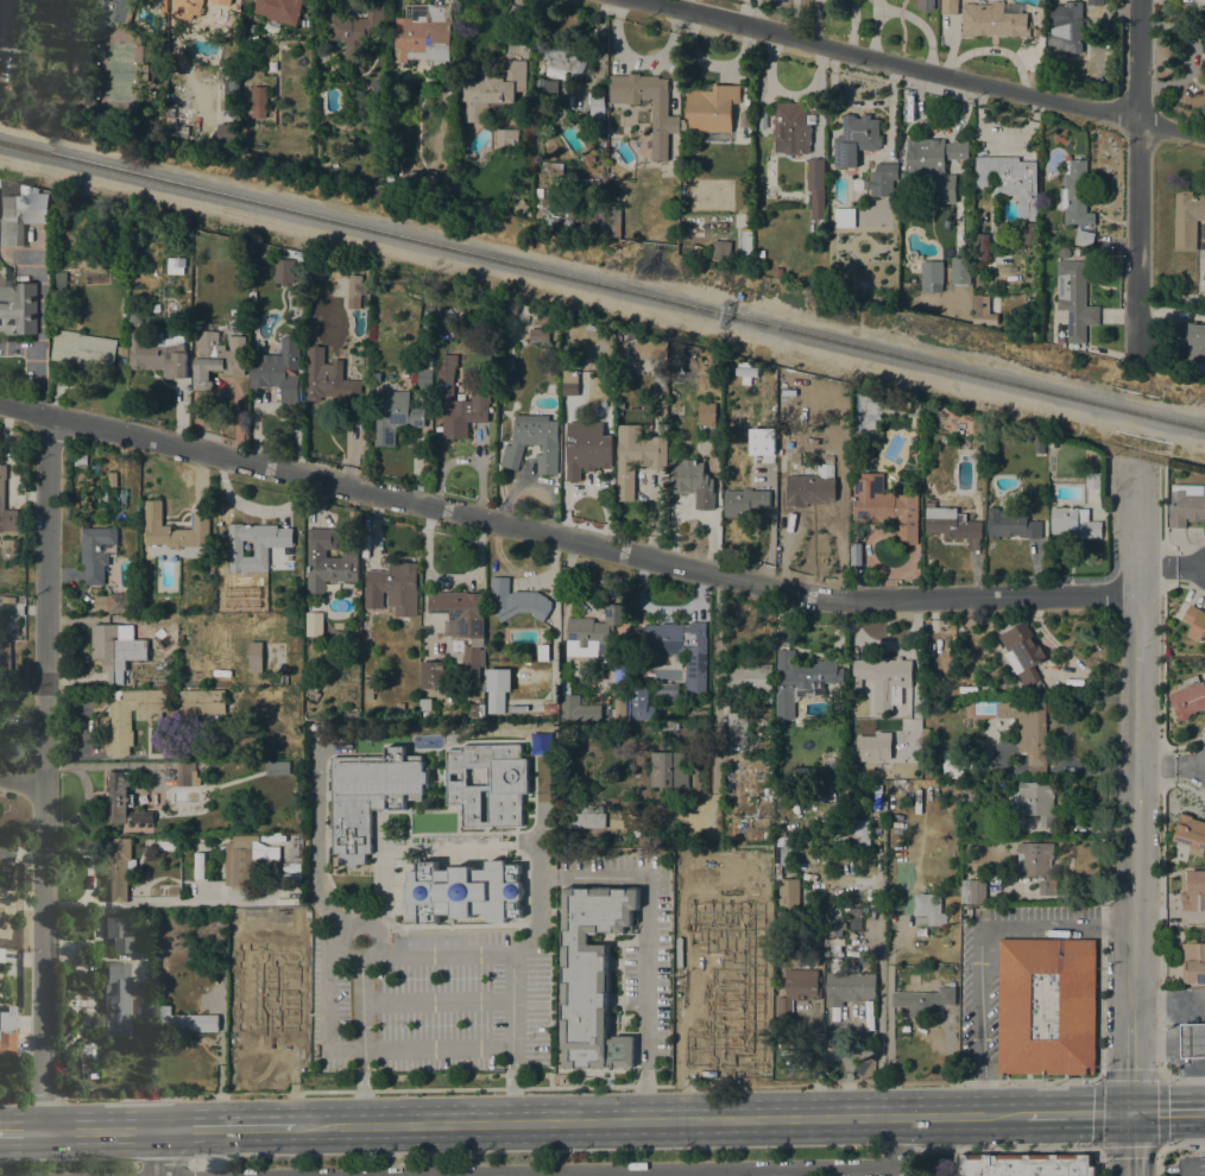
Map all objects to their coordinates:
building: (140, 0)
building: (221, 1)
building: (1094, 2)
building: (925, 5)
building: (948, 7)
building: (187, 8)
building: (278, 10)
building: (116, 12)
building: (992, 20)
building: (1065, 26)
building: (354, 29)
building: (425, 36)
building: (255, 42)
building: (257, 55)
road: (1137, 59)
building: (563, 61)
road: (920, 67)
building: (145, 71)
building: (545, 89)
building: (493, 91)
building: (259, 96)
building: (595, 103)
building: (378, 105)
building: (711, 108)
building: (665, 118)
building: (744, 119)
building: (791, 128)
building: (227, 133)
building: (506, 138)
building: (854, 139)
building: (671, 146)
building: (548, 166)
building: (935, 166)
building: (390, 173)
building: (1010, 179)
building: (881, 181)
building: (423, 183)
building: (857, 184)
building: (592, 186)
building: (815, 188)
building: (1074, 194)
building: (521, 206)
building: (542, 209)
building: (19, 211)
building: (844, 217)
building: (1187, 219)
building: (613, 221)
building: (140, 227)
building: (1029, 233)
road: (1135, 233)
building: (1084, 238)
building: (720, 249)
building: (979, 253)
building: (283, 271)
building: (960, 271)
building: (777, 273)
building: (932, 274)
building: (61, 285)
building: (354, 286)
railway: (602, 286)
building: (1075, 297)
building: (507, 308)
building: (18, 309)
building: (983, 310)
building: (135, 317)
building: (427, 318)
building: (504, 330)
building: (593, 330)
building: (538, 334)
building: (1059, 341)
building: (81, 348)
building: (1195, 348)
building: (650, 349)
building: (121, 355)
building: (157, 356)
building: (217, 356)
building: (676, 359)
building: (429, 361)
building: (279, 371)
building: (746, 372)
building: (718, 373)
building: (326, 377)
building: (377, 378)
building: (425, 378)
building: (570, 381)
building: (458, 402)
building: (903, 402)
building: (788, 407)
building: (706, 413)
building: (917, 413)
building: (395, 416)
building: (534, 442)
building: (1052, 444)
building: (788, 447)
building: (1039, 447)
building: (586, 448)
building: (1087, 450)
building: (826, 451)
building: (636, 457)
building: (81, 460)
building: (765, 461)
building: (112, 479)
building: (1093, 481)
building: (693, 482)
building: (815, 493)
building: (2, 494)
building: (135, 494)
building: (120, 497)
building: (744, 501)
building: (1186, 505)
building: (887, 510)
building: (153, 519)
building: (1073, 521)
building: (1009, 525)
building: (951, 526)
road: (1137, 536)
road: (563, 538)
building: (254, 545)
building: (96, 552)
building: (328, 559)
building: (209, 565)
road: (1156, 565)
road: (1190, 565)
building: (393, 588)
building: (516, 600)
building: (118, 601)
building: (460, 611)
building: (1195, 621)
building: (298, 622)
road: (1136, 627)
building: (595, 632)
road: (884, 644)
building: (116, 649)
building: (680, 650)
building: (542, 652)
building: (1022, 652)
building: (6, 655)
building: (255, 657)
building: (168, 659)
building: (472, 664)
building: (430, 674)
building: (284, 679)
building: (750, 679)
building: (883, 679)
building: (801, 681)
building: (313, 685)
building: (497, 688)
building: (368, 689)
building: (988, 690)
building: (665, 691)
building: (1188, 697)
building: (694, 698)
building: (641, 703)
building: (399, 707)
building: (550, 709)
building: (576, 712)
building: (619, 712)
building: (154, 713)
building: (425, 714)
building: (599, 715)
building: (216, 722)
building: (323, 726)
building: (669, 726)
building: (314, 727)
building: (737, 728)
building: (1028, 732)
road: (330, 742)
building: (872, 747)
building: (955, 763)
building: (277, 769)
building: (668, 769)
road: (1155, 769)
road: (1190, 769)
road: (44, 772)
building: (187, 773)
road: (21, 780)
building: (488, 783)
building: (370, 796)
building: (122, 801)
building: (1033, 802)
building: (586, 817)
building: (656, 827)
building: (852, 829)
building: (1191, 834)
road: (1134, 842)
building: (6, 852)
building: (786, 856)
road: (84, 859)
building: (240, 865)
building: (1037, 865)
building: (119, 867)
building: (1192, 890)
building: (463, 891)
building: (972, 892)
building: (788, 893)
road: (323, 898)
road: (174, 902)
building: (828, 903)
road: (62, 905)
building: (0, 908)
building: (928, 908)
road: (367, 923)
building: (834, 925)
building: (118, 934)
road: (519, 946)
road: (980, 947)
road: (434, 954)
road: (645, 954)
building: (0, 956)
building: (1193, 962)
building: (592, 975)
building: (802, 984)
building: (847, 986)
building: (116, 998)
building: (923, 1000)
building: (259, 1001)
building: (720, 1001)
road: (435, 1003)
building: (1046, 1005)
road: (888, 1014)
building: (185, 1022)
road: (1172, 1028)
building: (7, 1032)
road: (1150, 1041)
building: (1192, 1041)
road: (436, 1043)
road: (220, 1064)
road: (1129, 1068)
road: (1182, 1080)
road: (511, 1082)
road: (364, 1085)
road: (1166, 1111)
road: (1075, 1113)
traffic signals: (1129, 1113)
road: (658, 1119)
road: (228, 1127)
road: (102, 1130)
road: (20, 1131)
road: (1181, 1143)
road: (1129, 1144)
road: (1157, 1147)
road: (998, 1150)
road: (163, 1152)
road: (1157, 1161)
road: (1099, 1162)
building: (1024, 1165)
road: (709, 1170)
road: (1186, 1170)

